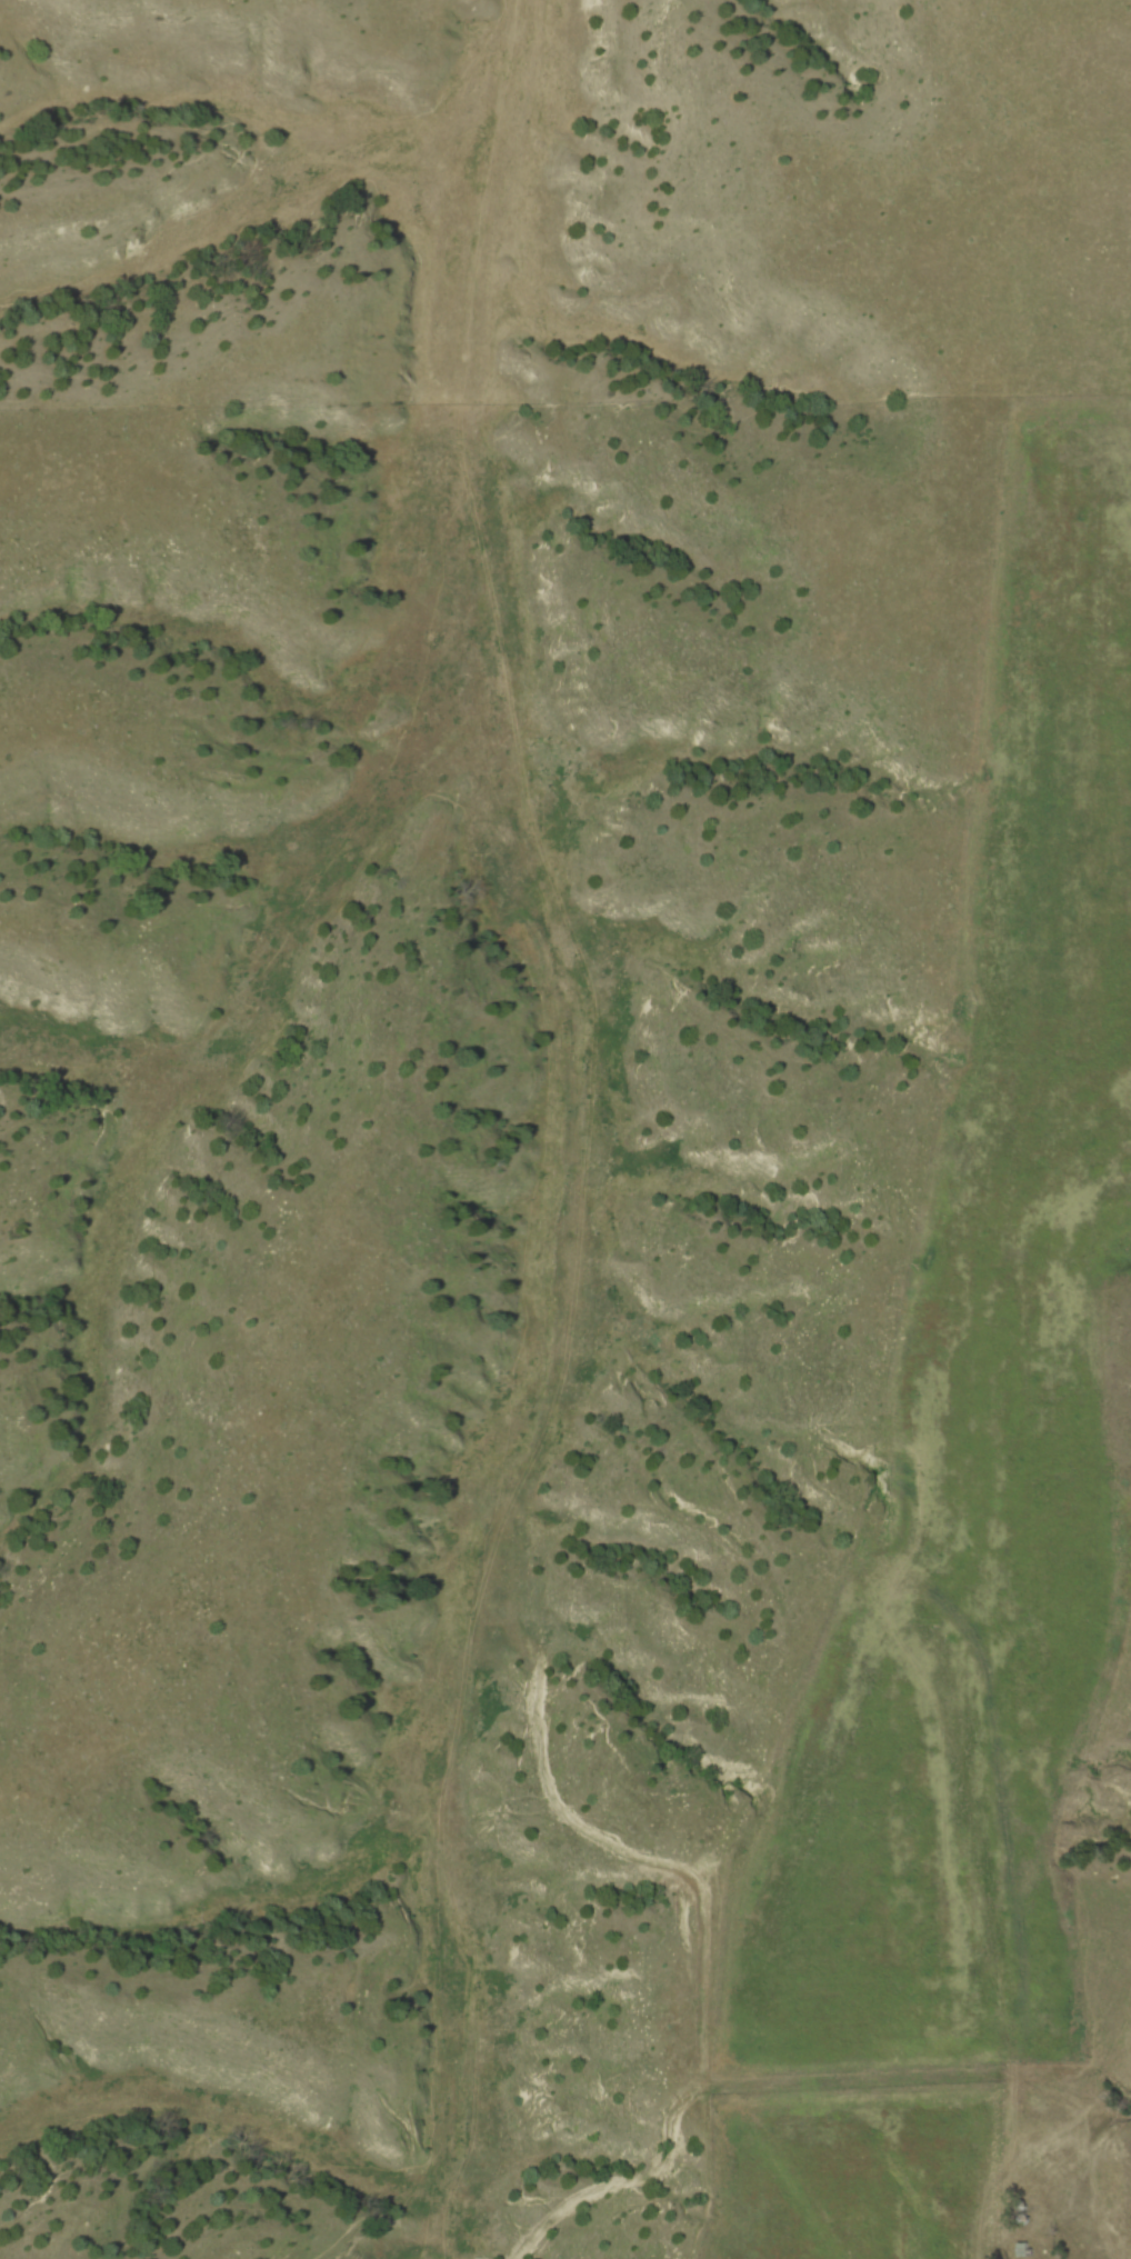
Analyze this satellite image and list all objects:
building: (1054, 2157)
road: (1073, 2223)

